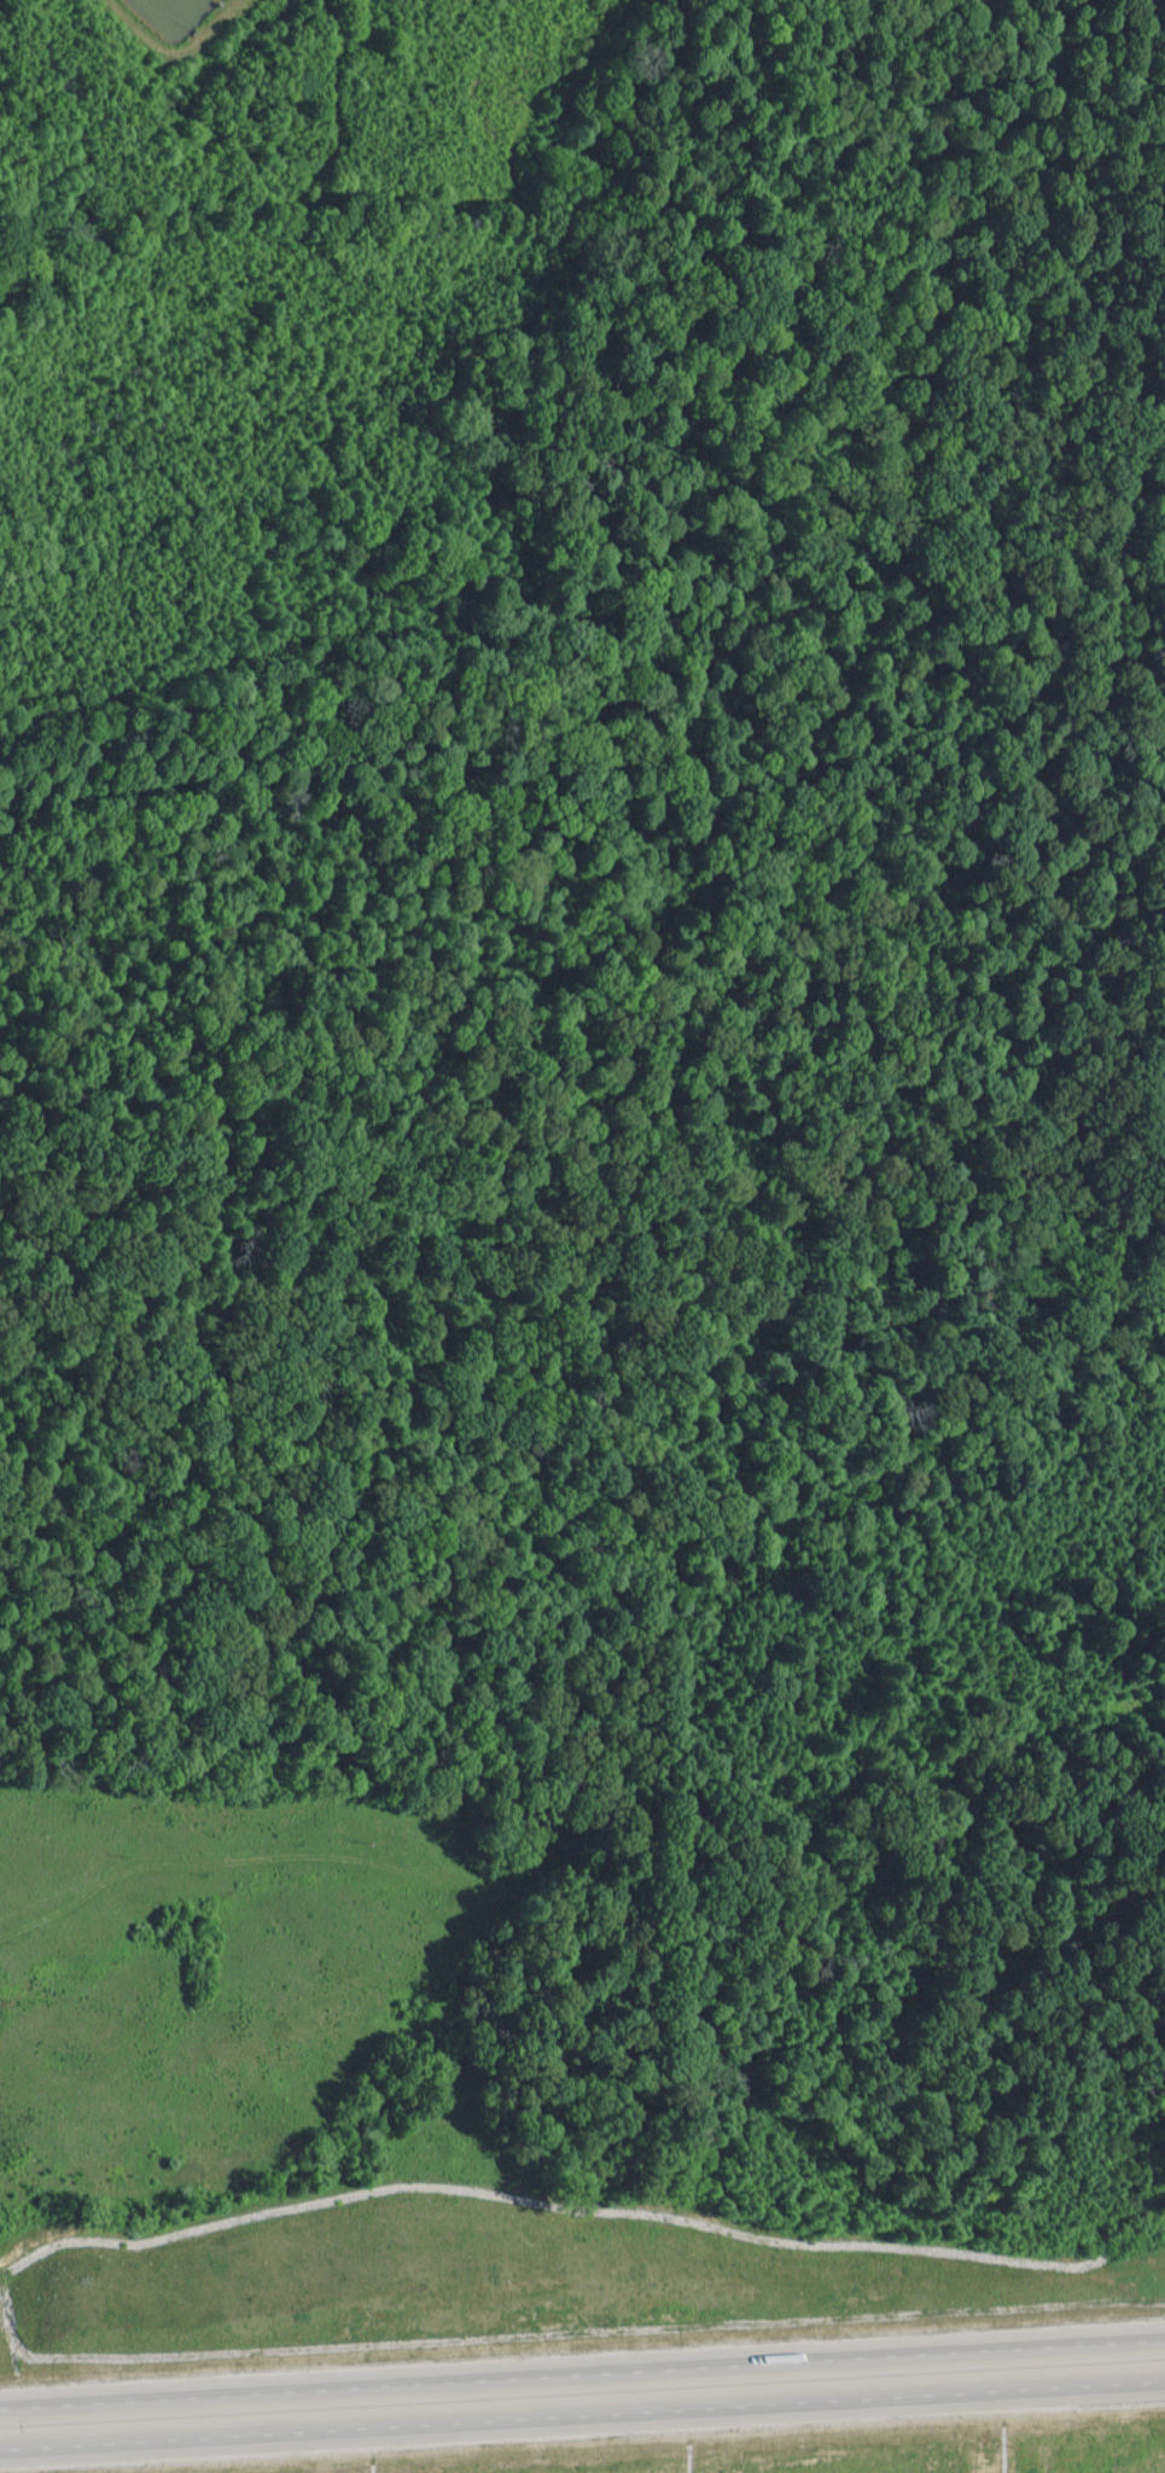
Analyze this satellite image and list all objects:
building: (251, 2294)
road: (582, 2372)
road: (582, 2414)

